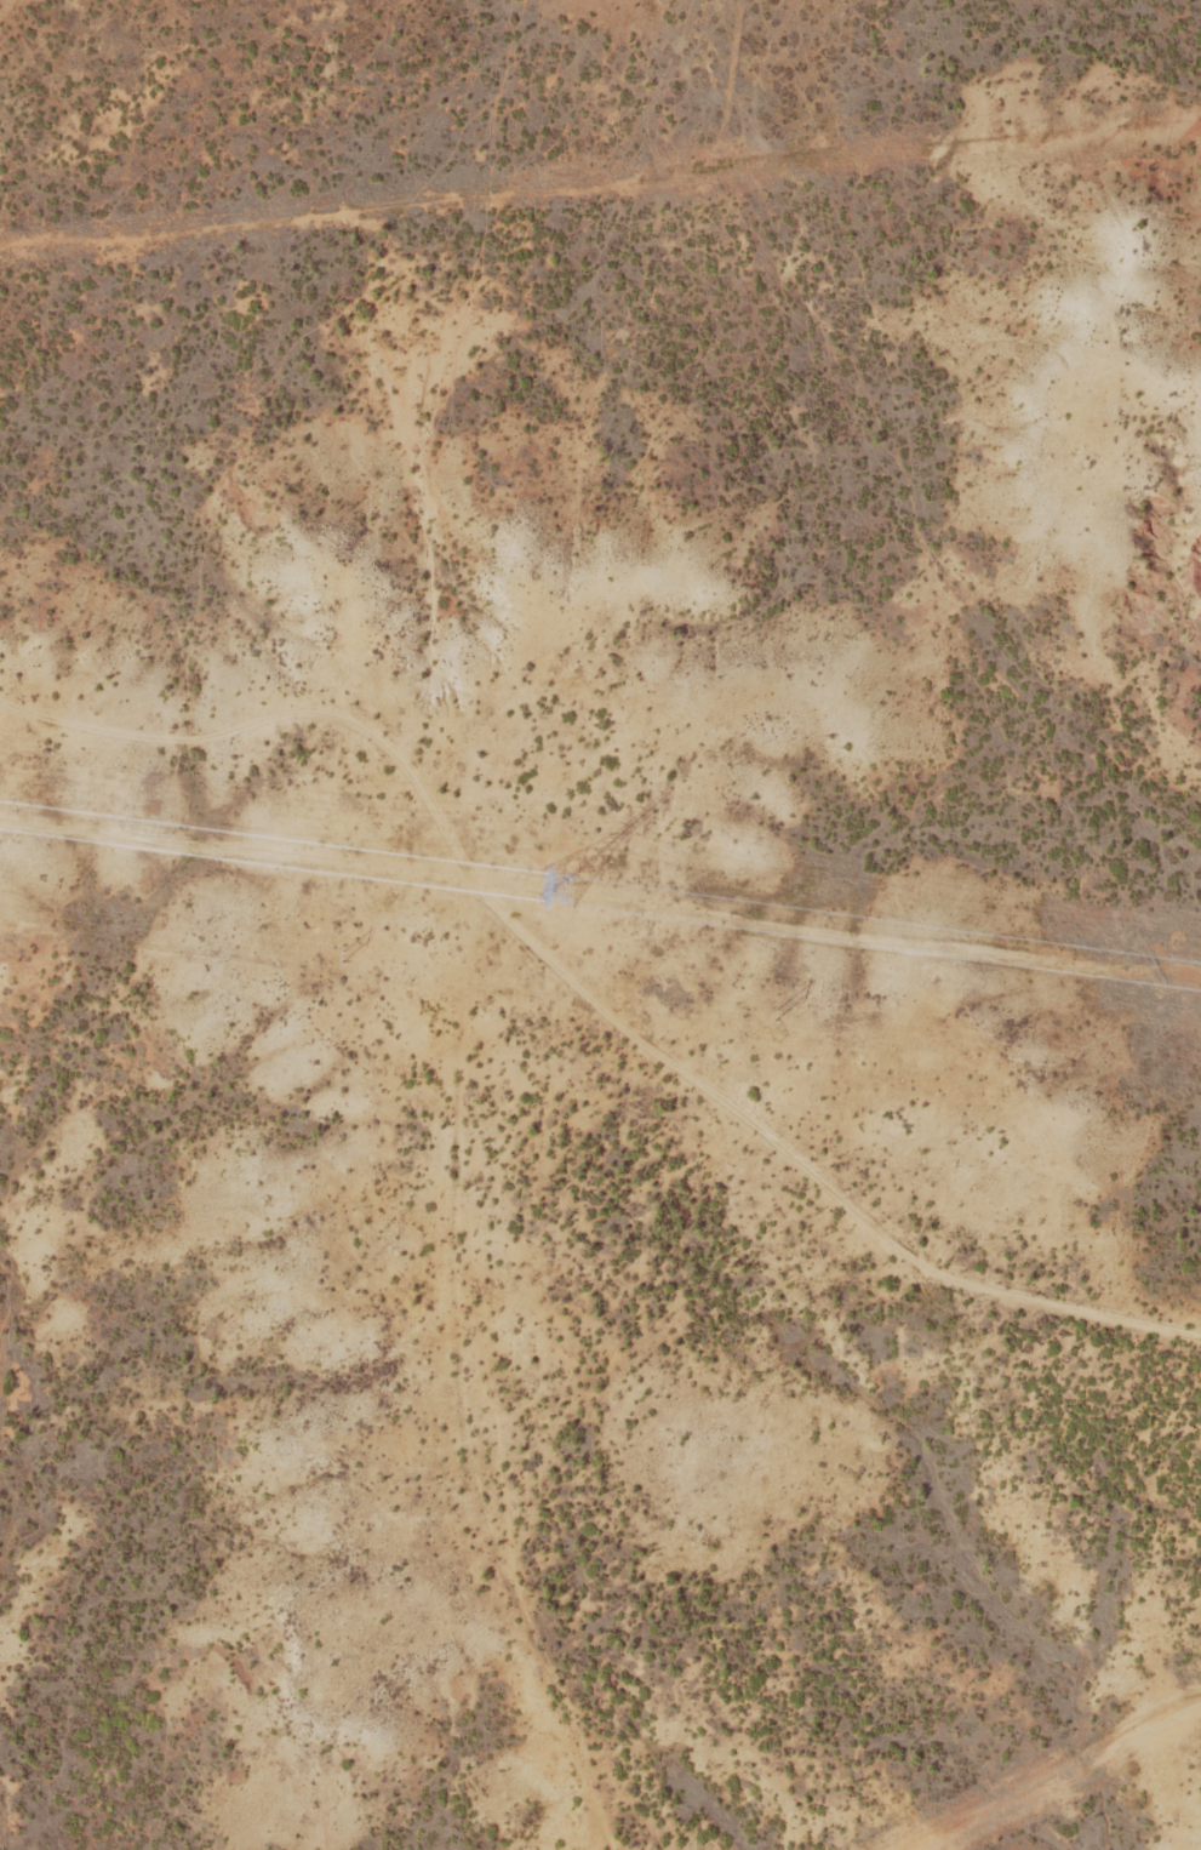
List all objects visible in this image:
road: (945, 613)
power tower: (555, 880)
power tower: (343, 954)
power tower: (774, 1012)
power tower: (1200, 1070)
road: (424, 1117)
road: (776, 1140)

